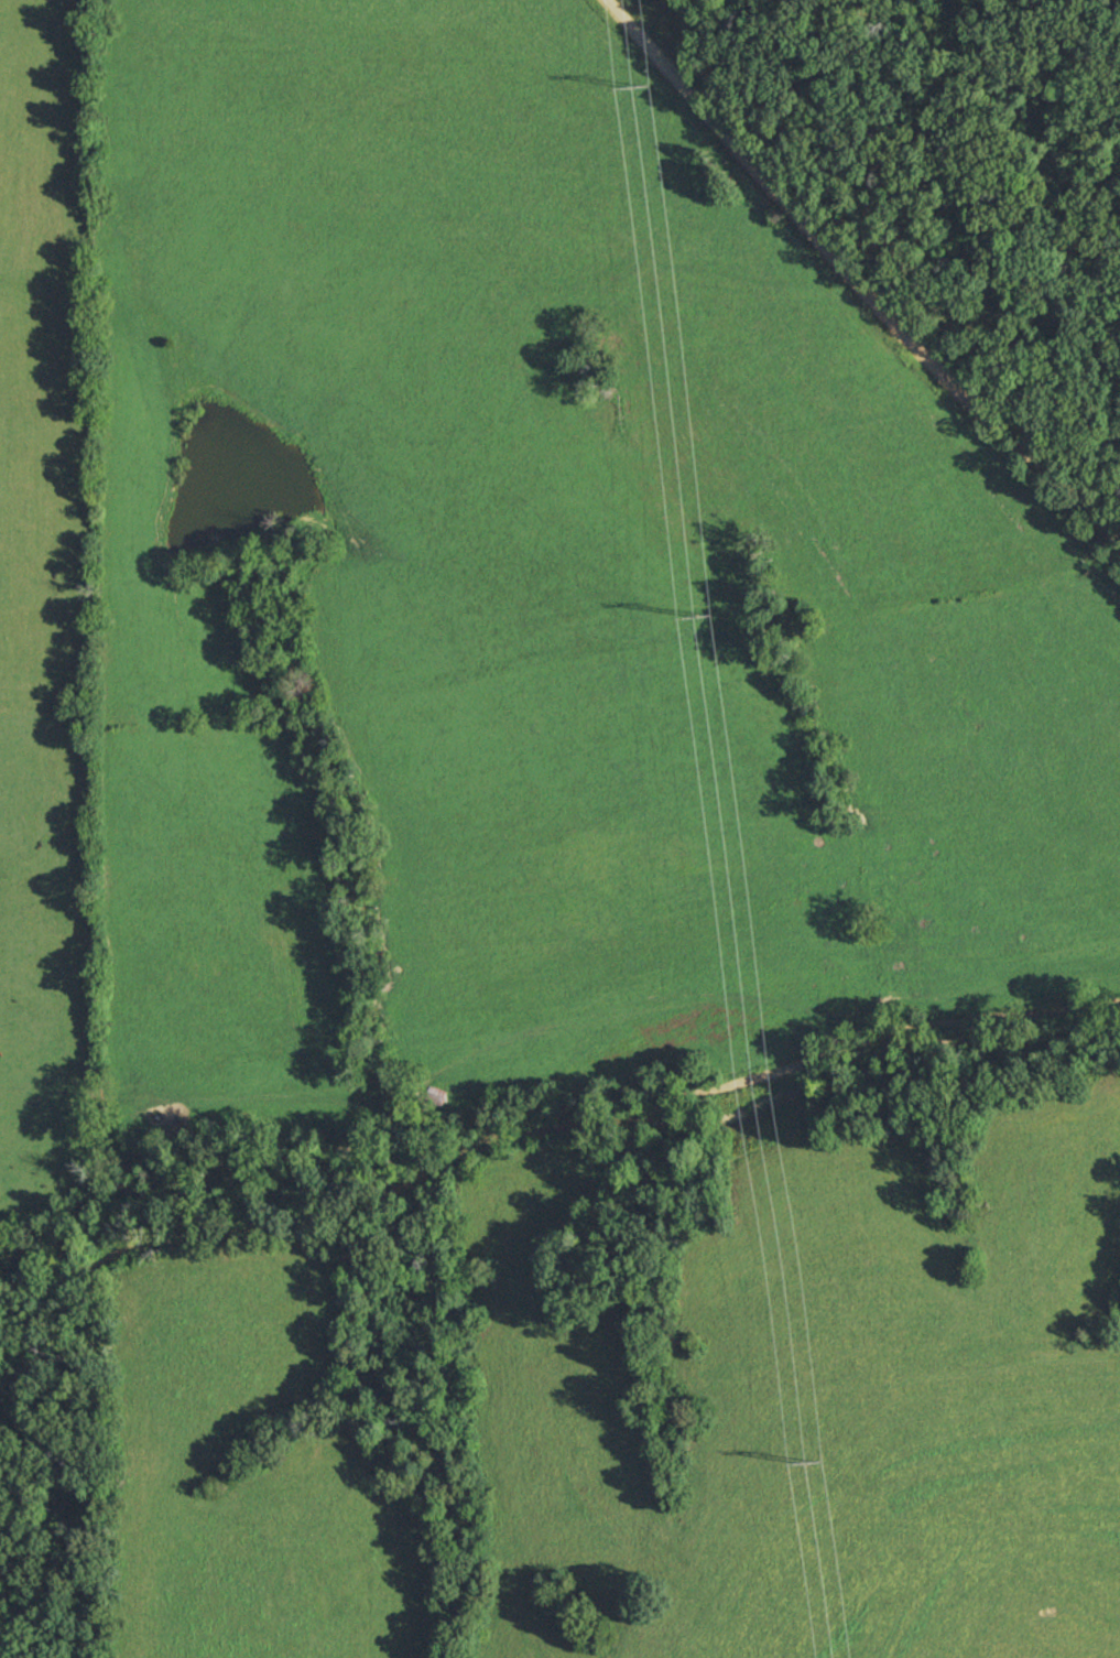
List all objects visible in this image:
power tower: (639, 89)
road: (852, 282)
power tower: (705, 615)
building: (436, 1094)
road: (554, 1138)
power tower: (812, 1464)

